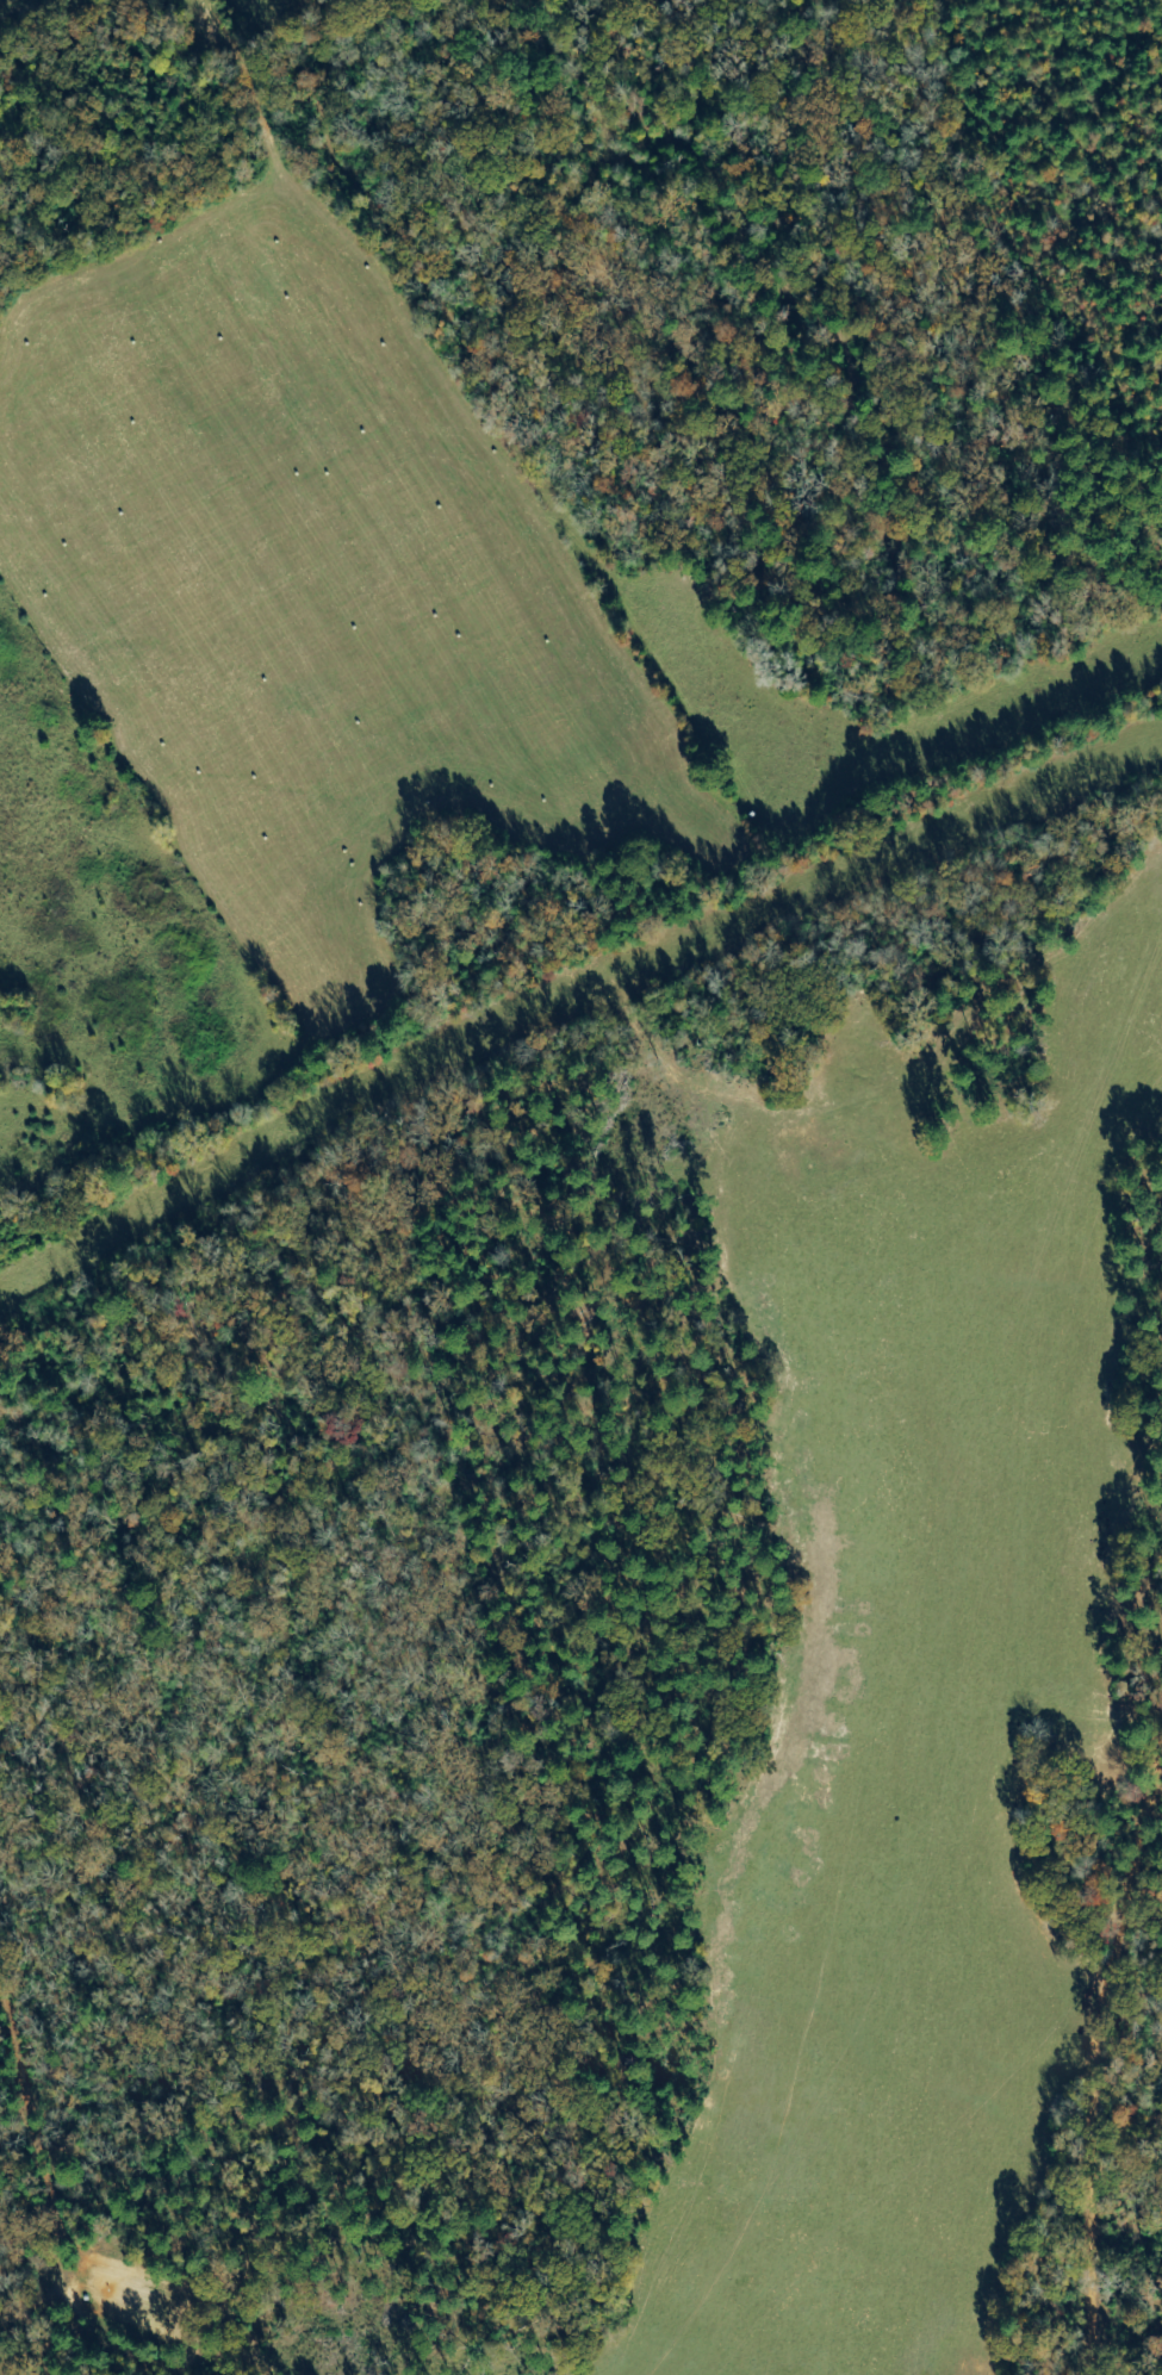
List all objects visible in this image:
road: (60, 2265)

